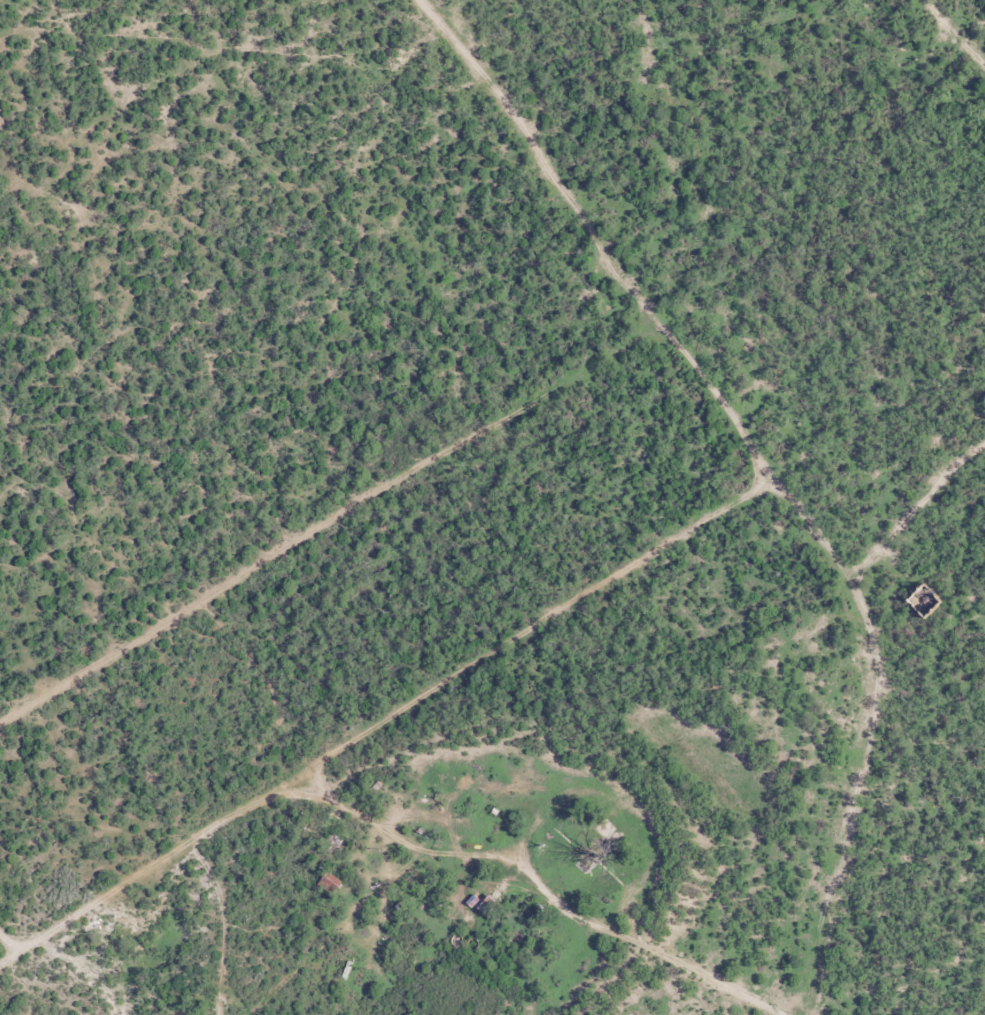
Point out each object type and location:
road: (871, 731)
building: (399, 802)
building: (578, 849)
road: (662, 974)

